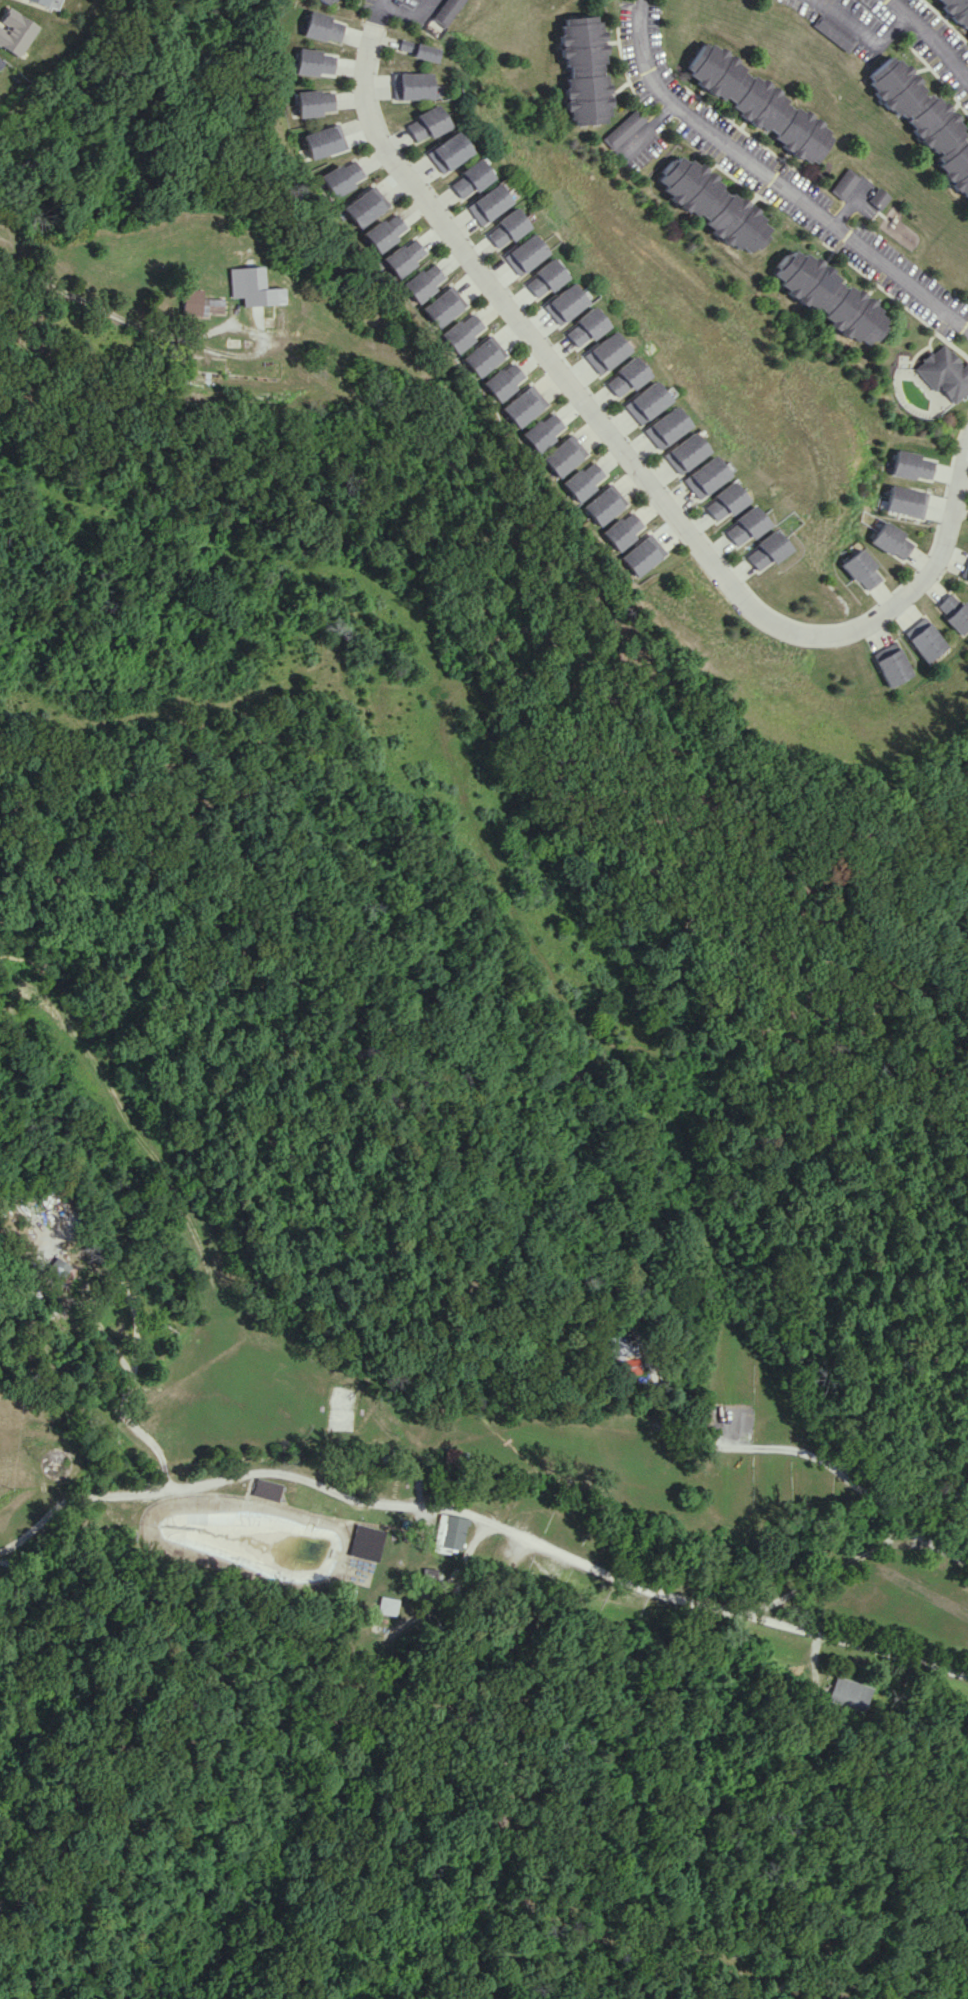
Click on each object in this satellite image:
building: (327, 0)
building: (48, 3)
building: (957, 10)
building: (447, 11)
road: (410, 13)
building: (324, 27)
building: (15, 31)
building: (833, 32)
road: (865, 32)
road: (931, 39)
building: (418, 49)
building: (0, 61)
building: (317, 62)
building: (581, 70)
building: (411, 85)
building: (317, 102)
building: (756, 102)
building: (924, 119)
building: (424, 123)
road: (648, 127)
building: (621, 128)
building: (326, 141)
building: (443, 152)
building: (341, 177)
building: (464, 179)
road: (774, 181)
building: (843, 183)
building: (877, 198)
building: (710, 203)
building: (485, 204)
road: (849, 206)
building: (363, 207)
building: (505, 228)
building: (382, 233)
building: (524, 254)
building: (403, 256)
building: (545, 278)
building: (424, 281)
building: (251, 286)
building: (827, 297)
building: (198, 303)
building: (565, 303)
building: (444, 306)
road: (117, 315)
building: (585, 327)
building: (463, 332)
building: (606, 352)
building: (484, 356)
building: (942, 373)
building: (625, 377)
building: (504, 380)
building: (646, 402)
building: (524, 405)
building: (666, 427)
building: (544, 431)
building: (685, 452)
building: (565, 455)
road: (626, 456)
building: (912, 465)
building: (706, 476)
building: (584, 480)
building: (728, 500)
building: (905, 501)
building: (605, 504)
building: (747, 526)
building: (624, 530)
building: (891, 540)
building: (767, 550)
building: (645, 554)
building: (860, 570)
building: (965, 572)
building: (955, 611)
building: (927, 639)
building: (894, 664)
building: (55, 1269)
building: (621, 1356)
road: (130, 1377)
road: (811, 1470)
building: (266, 1489)
road: (484, 1529)
building: (449, 1532)
building: (365, 1542)
road: (821, 1578)
building: (386, 1605)
building: (850, 1693)

